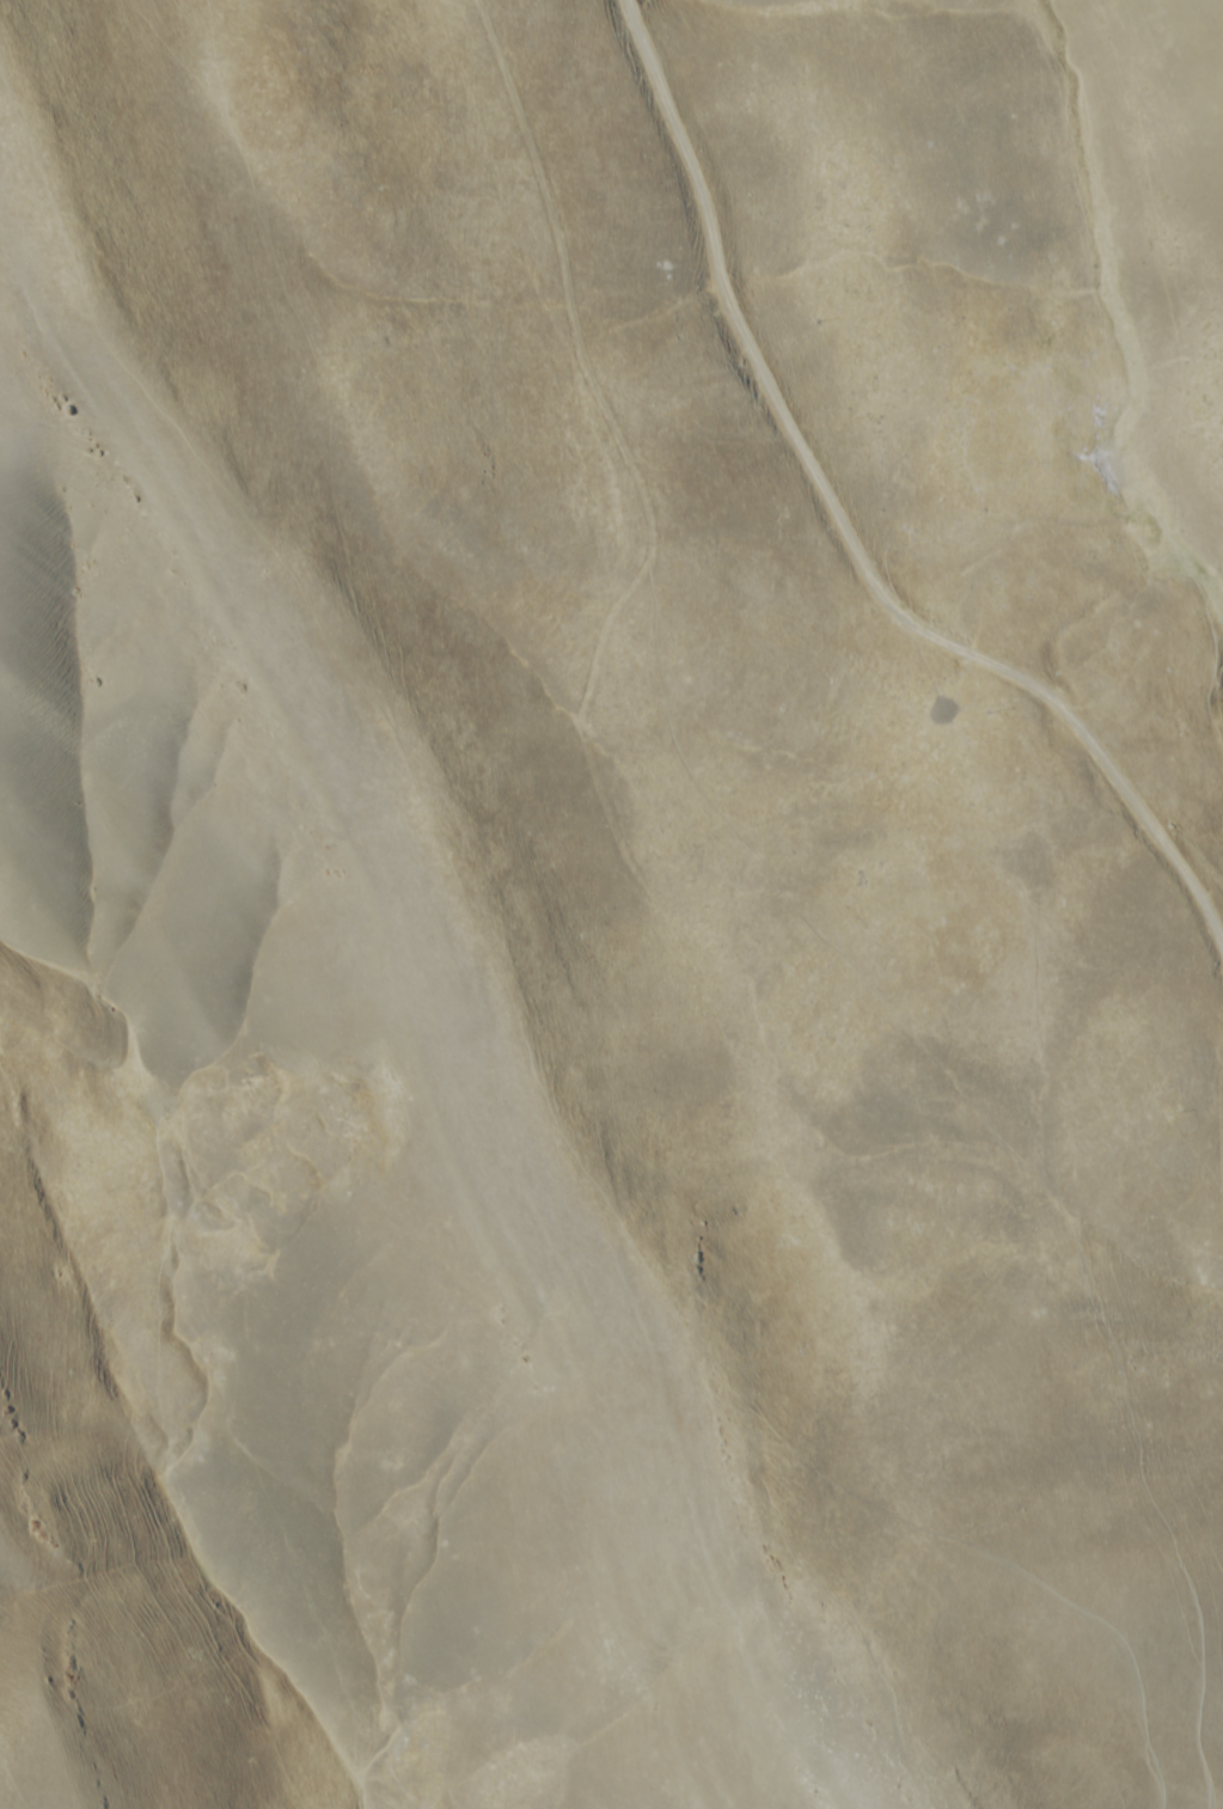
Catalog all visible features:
road: (846, 533)

